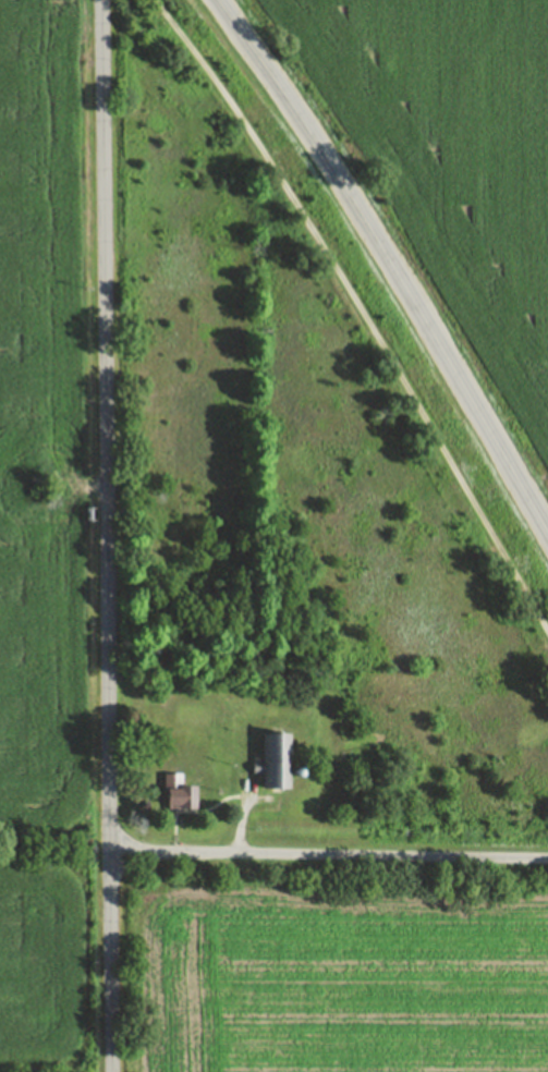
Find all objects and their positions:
road: (241, 33)
road: (409, 300)
road: (357, 309)
road: (106, 535)
building: (275, 759)
building: (295, 770)
building: (178, 792)
road: (240, 824)
road: (328, 853)

